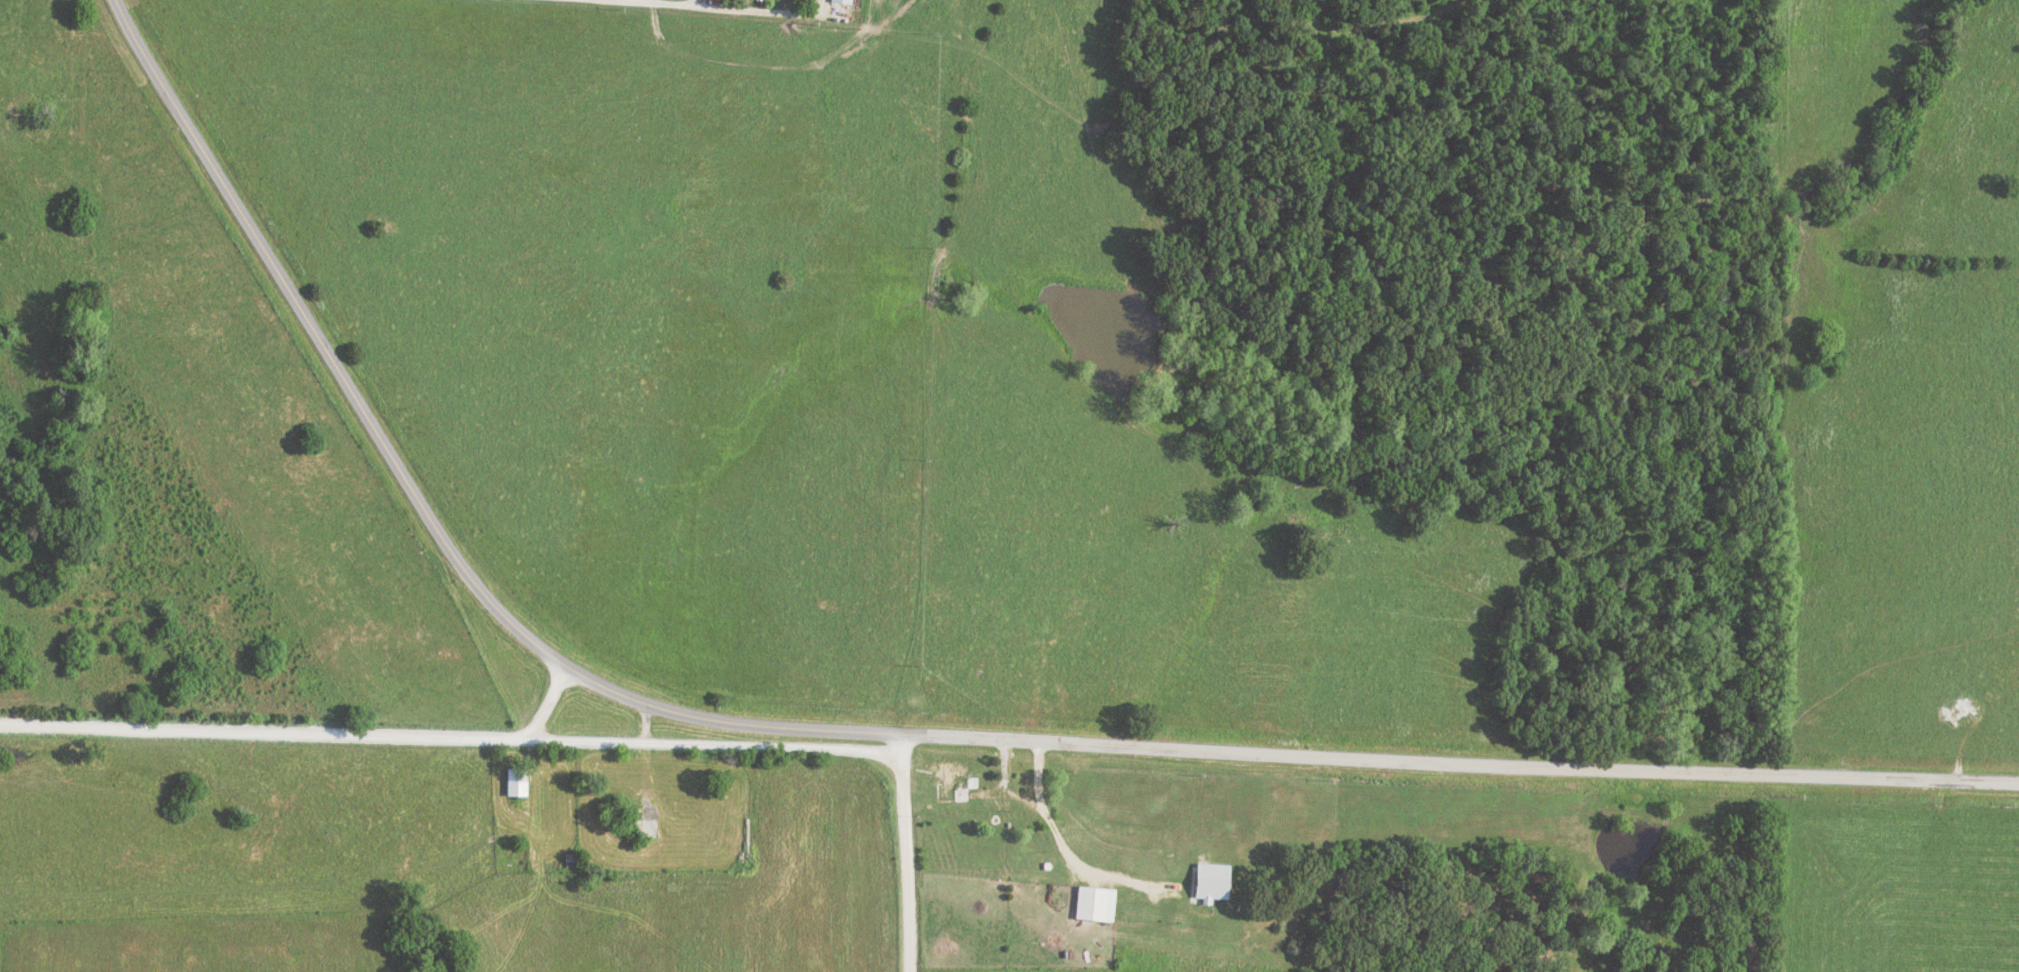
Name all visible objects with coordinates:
building: (840, 1)
road: (649, 3)
road: (646, 722)
road: (1977, 725)
road: (305, 734)
road: (882, 737)
road: (715, 743)
building: (515, 781)
building: (950, 782)
road: (1019, 794)
building: (645, 828)
road: (904, 855)
road: (1087, 865)
building: (1095, 903)

